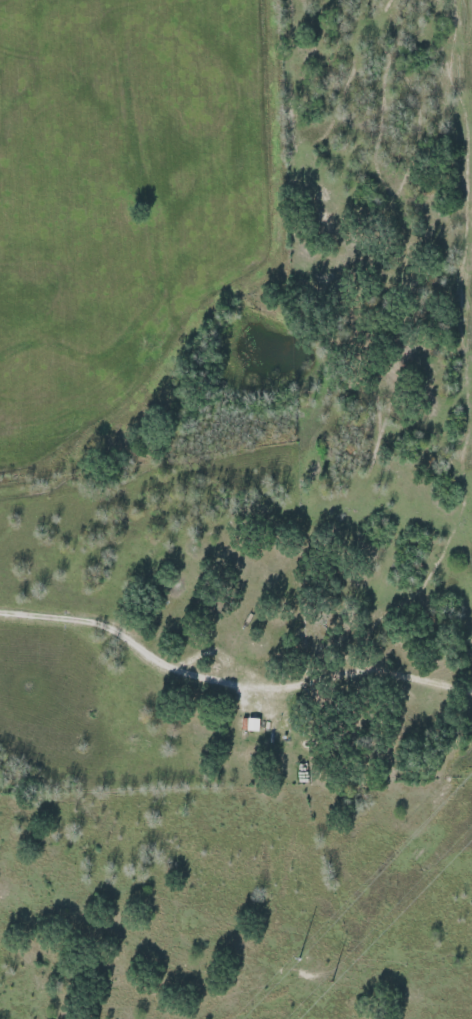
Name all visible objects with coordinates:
road: (229, 684)
power tower: (301, 954)

